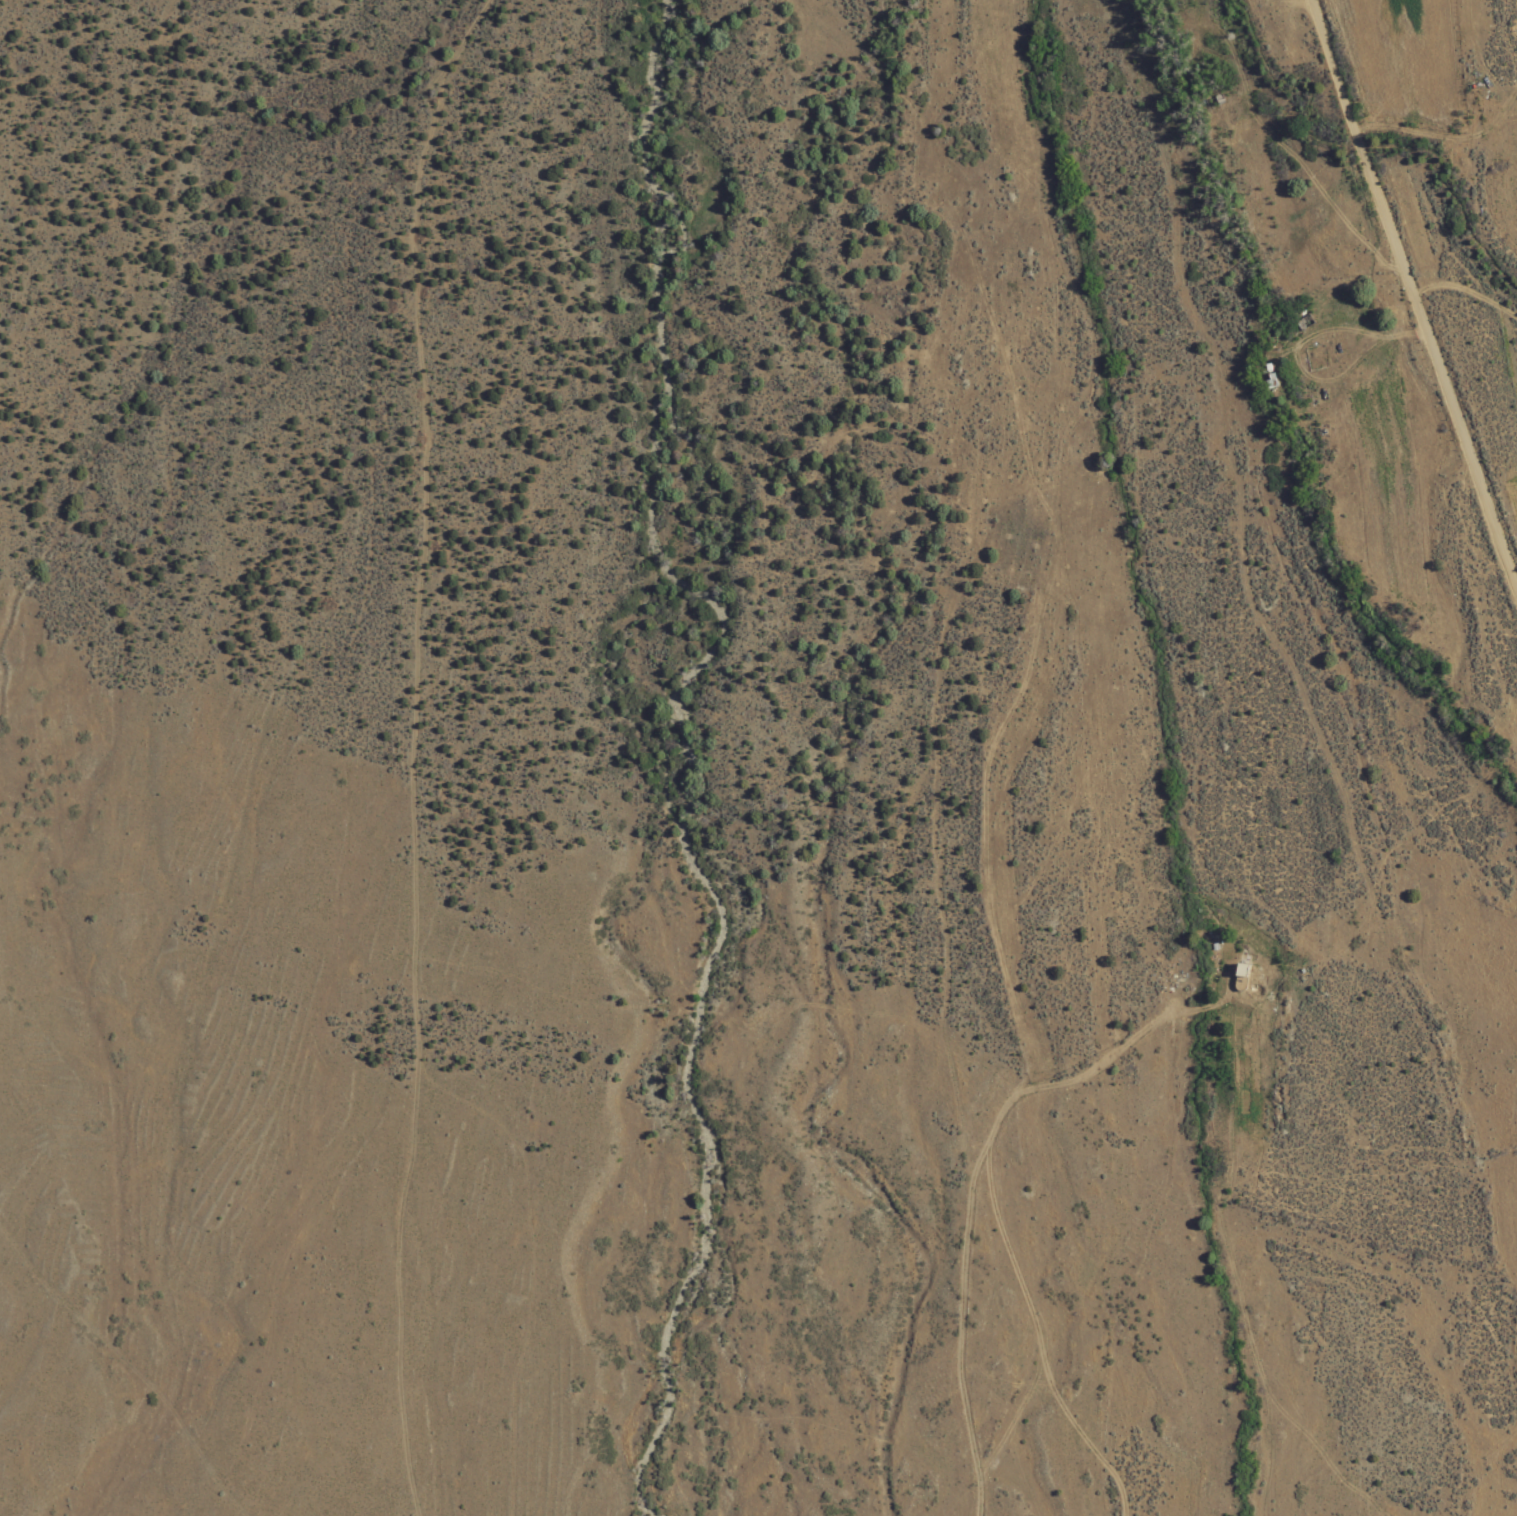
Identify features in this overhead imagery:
road: (1417, 300)

